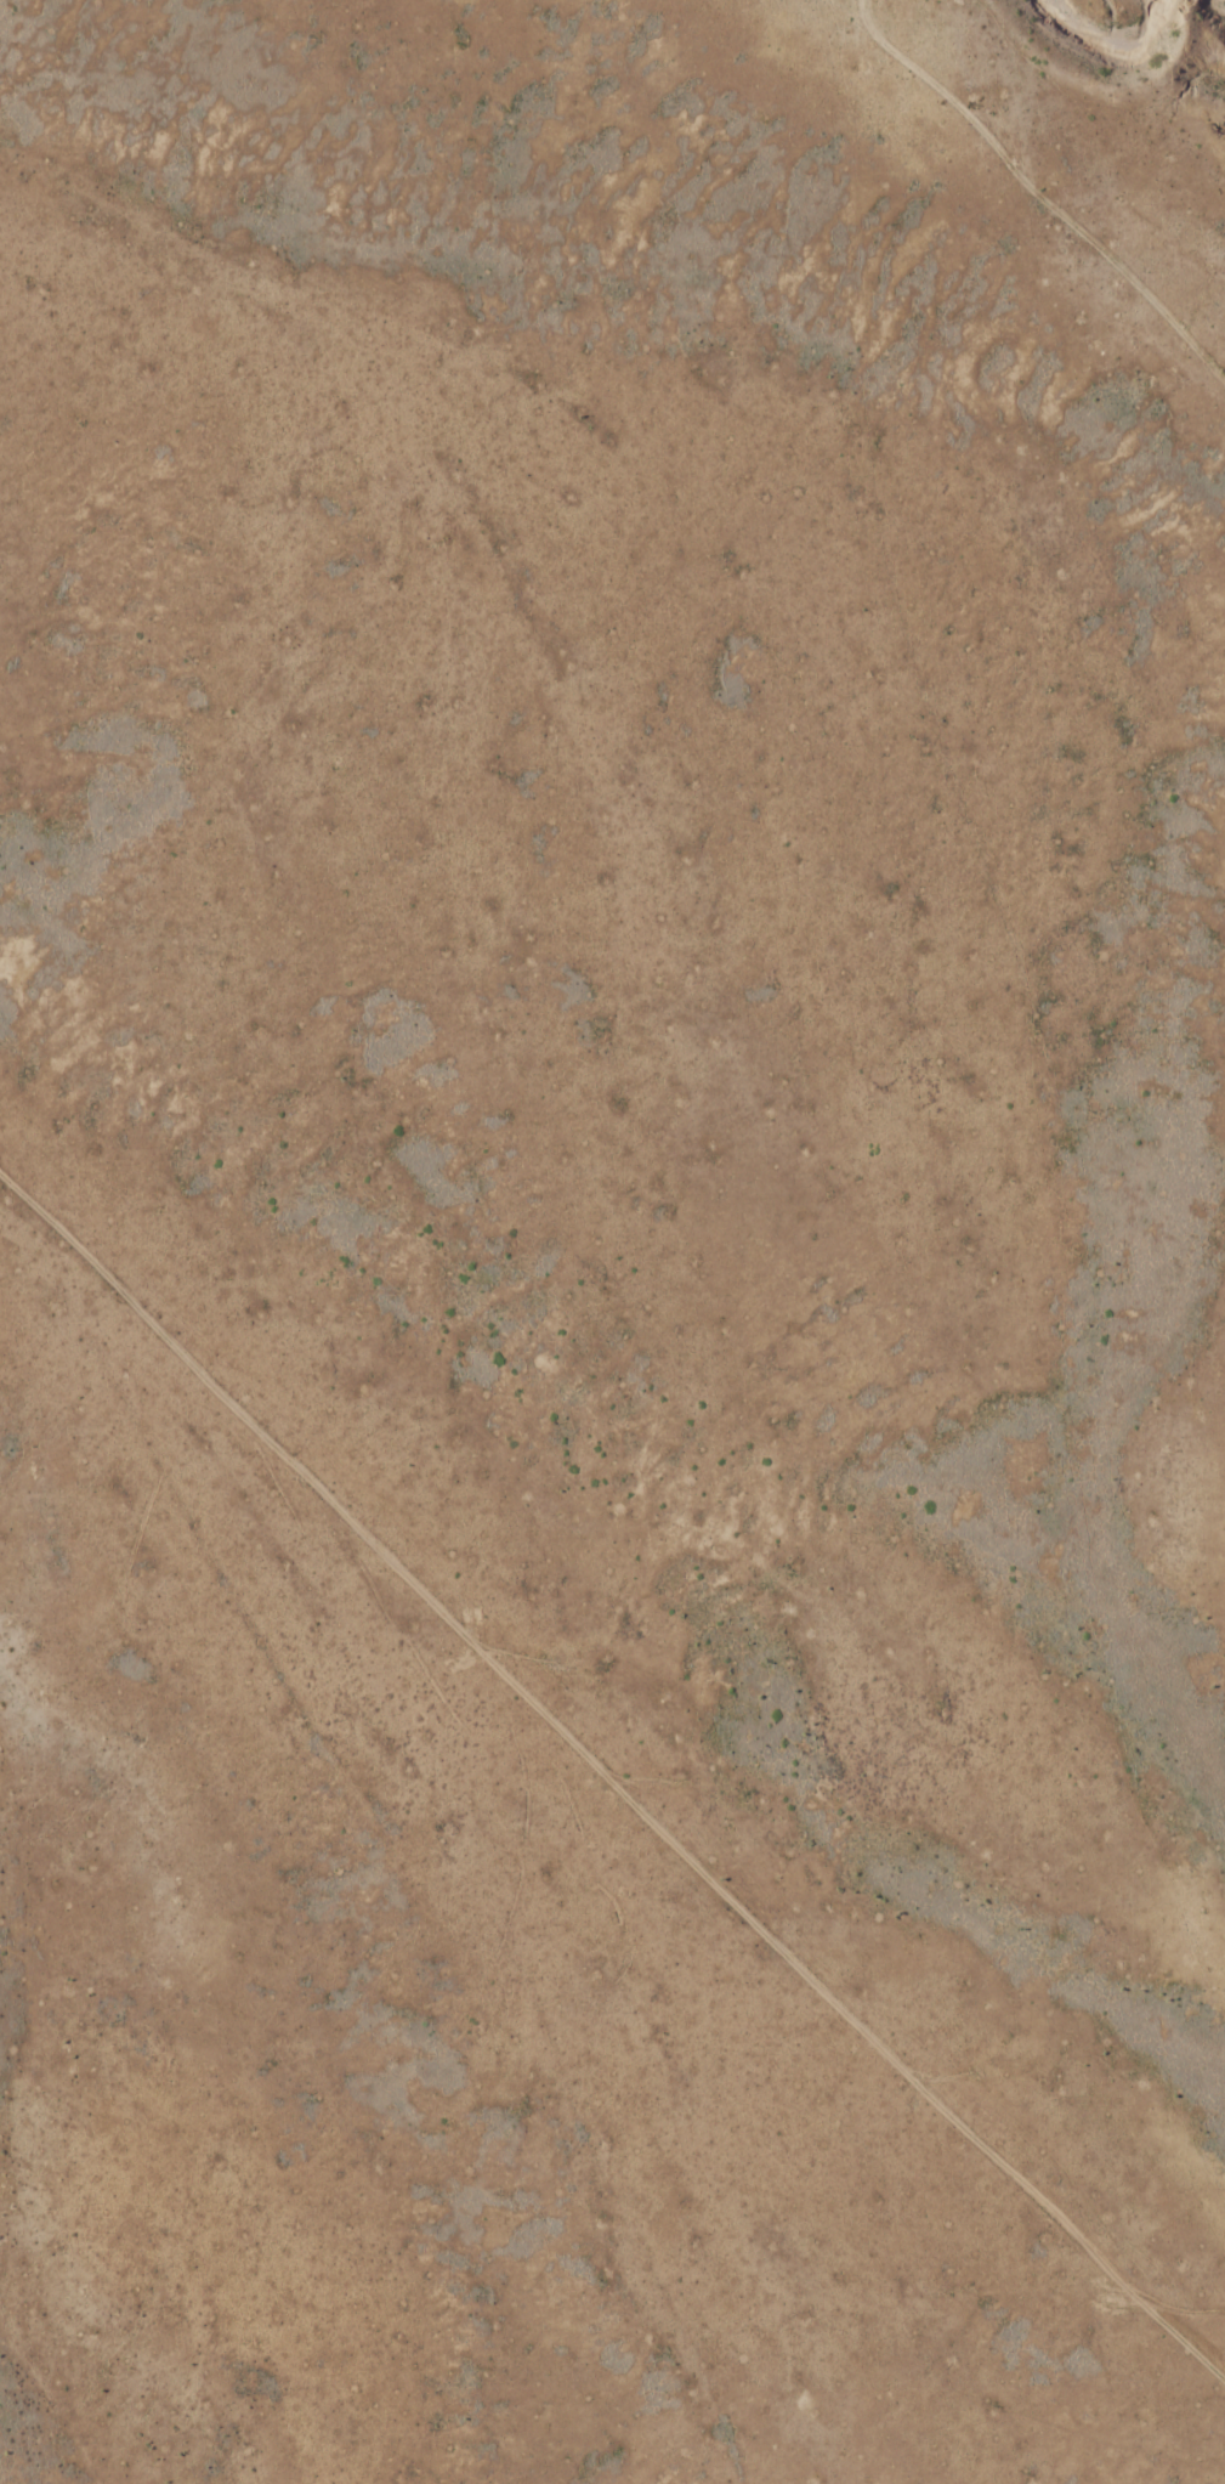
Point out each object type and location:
road: (1016, 199)
road: (404, 1821)

